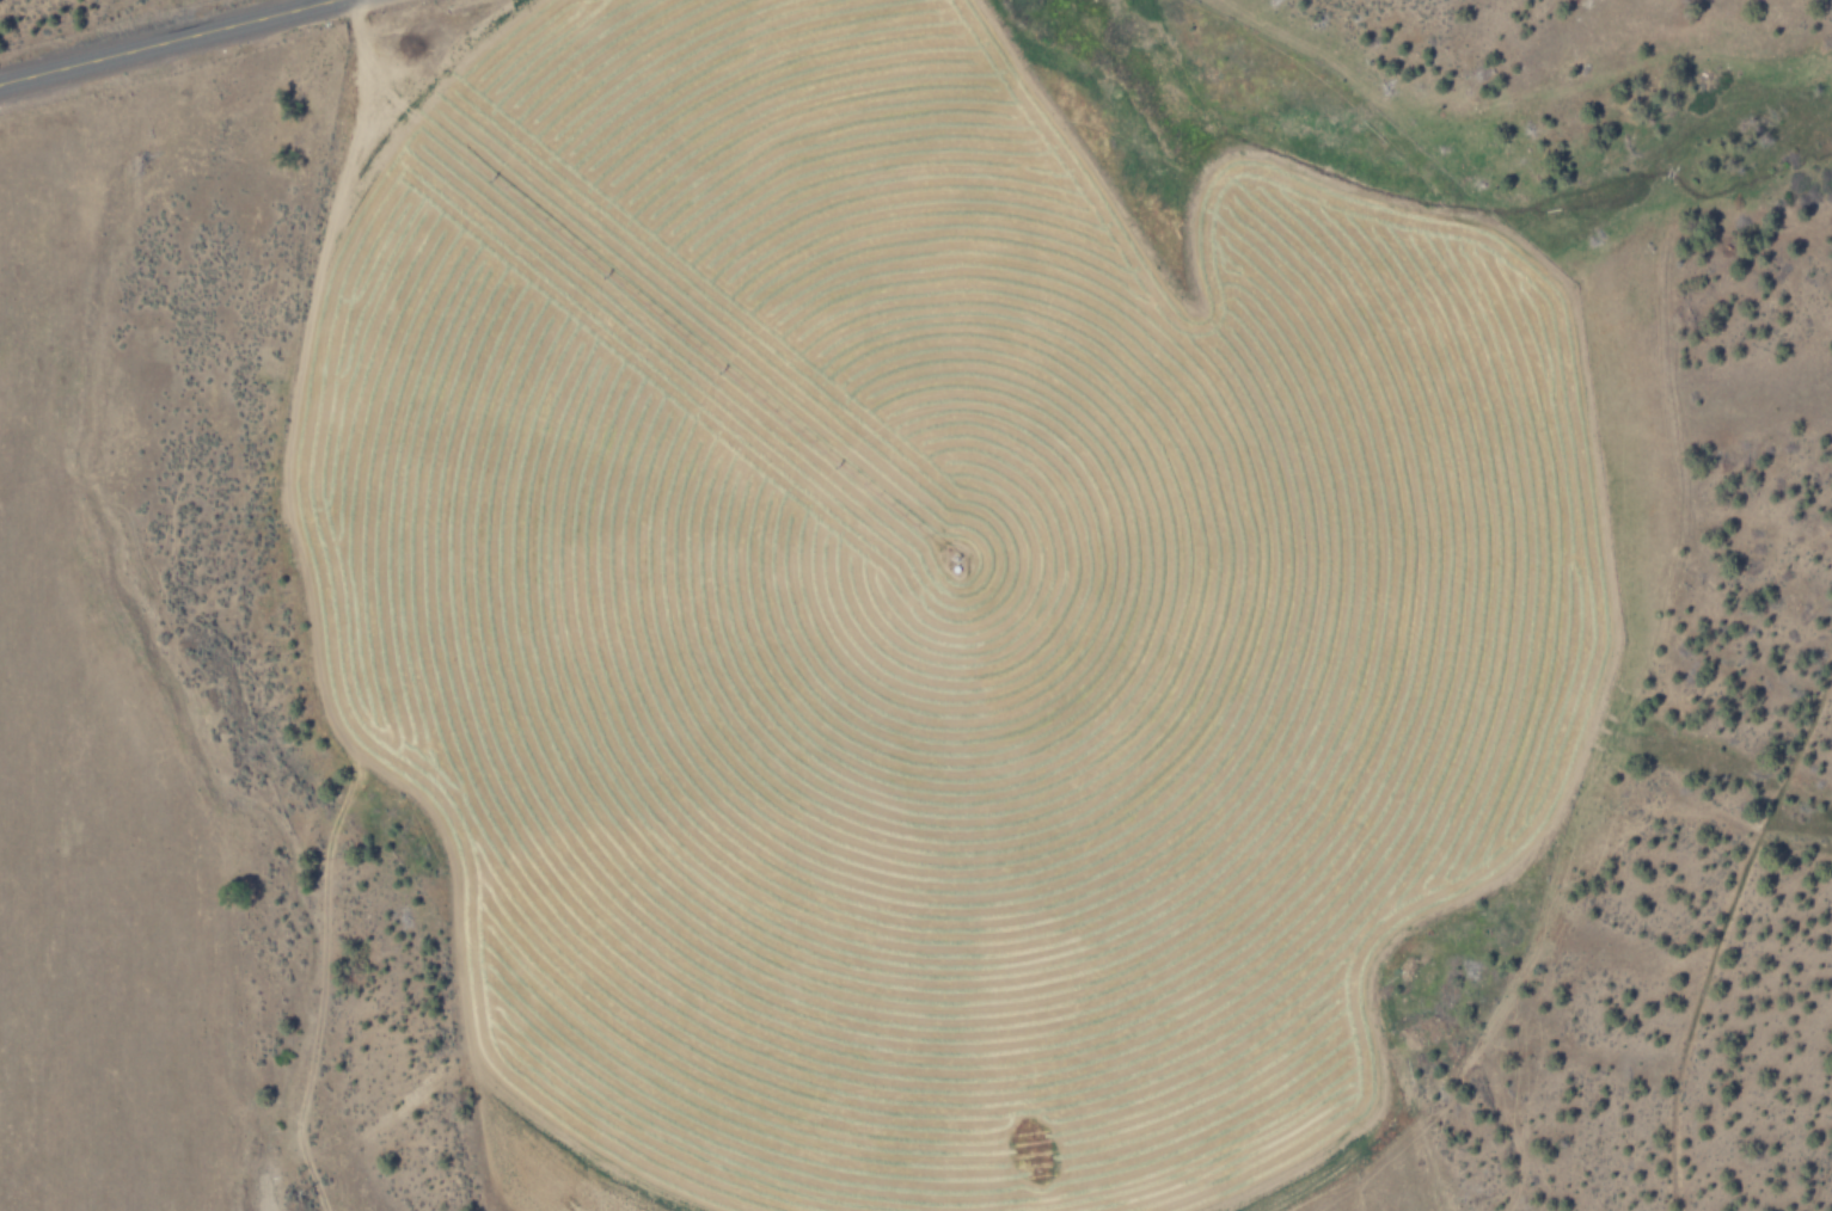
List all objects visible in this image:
road: (170, 43)
crop: (933, 597)

